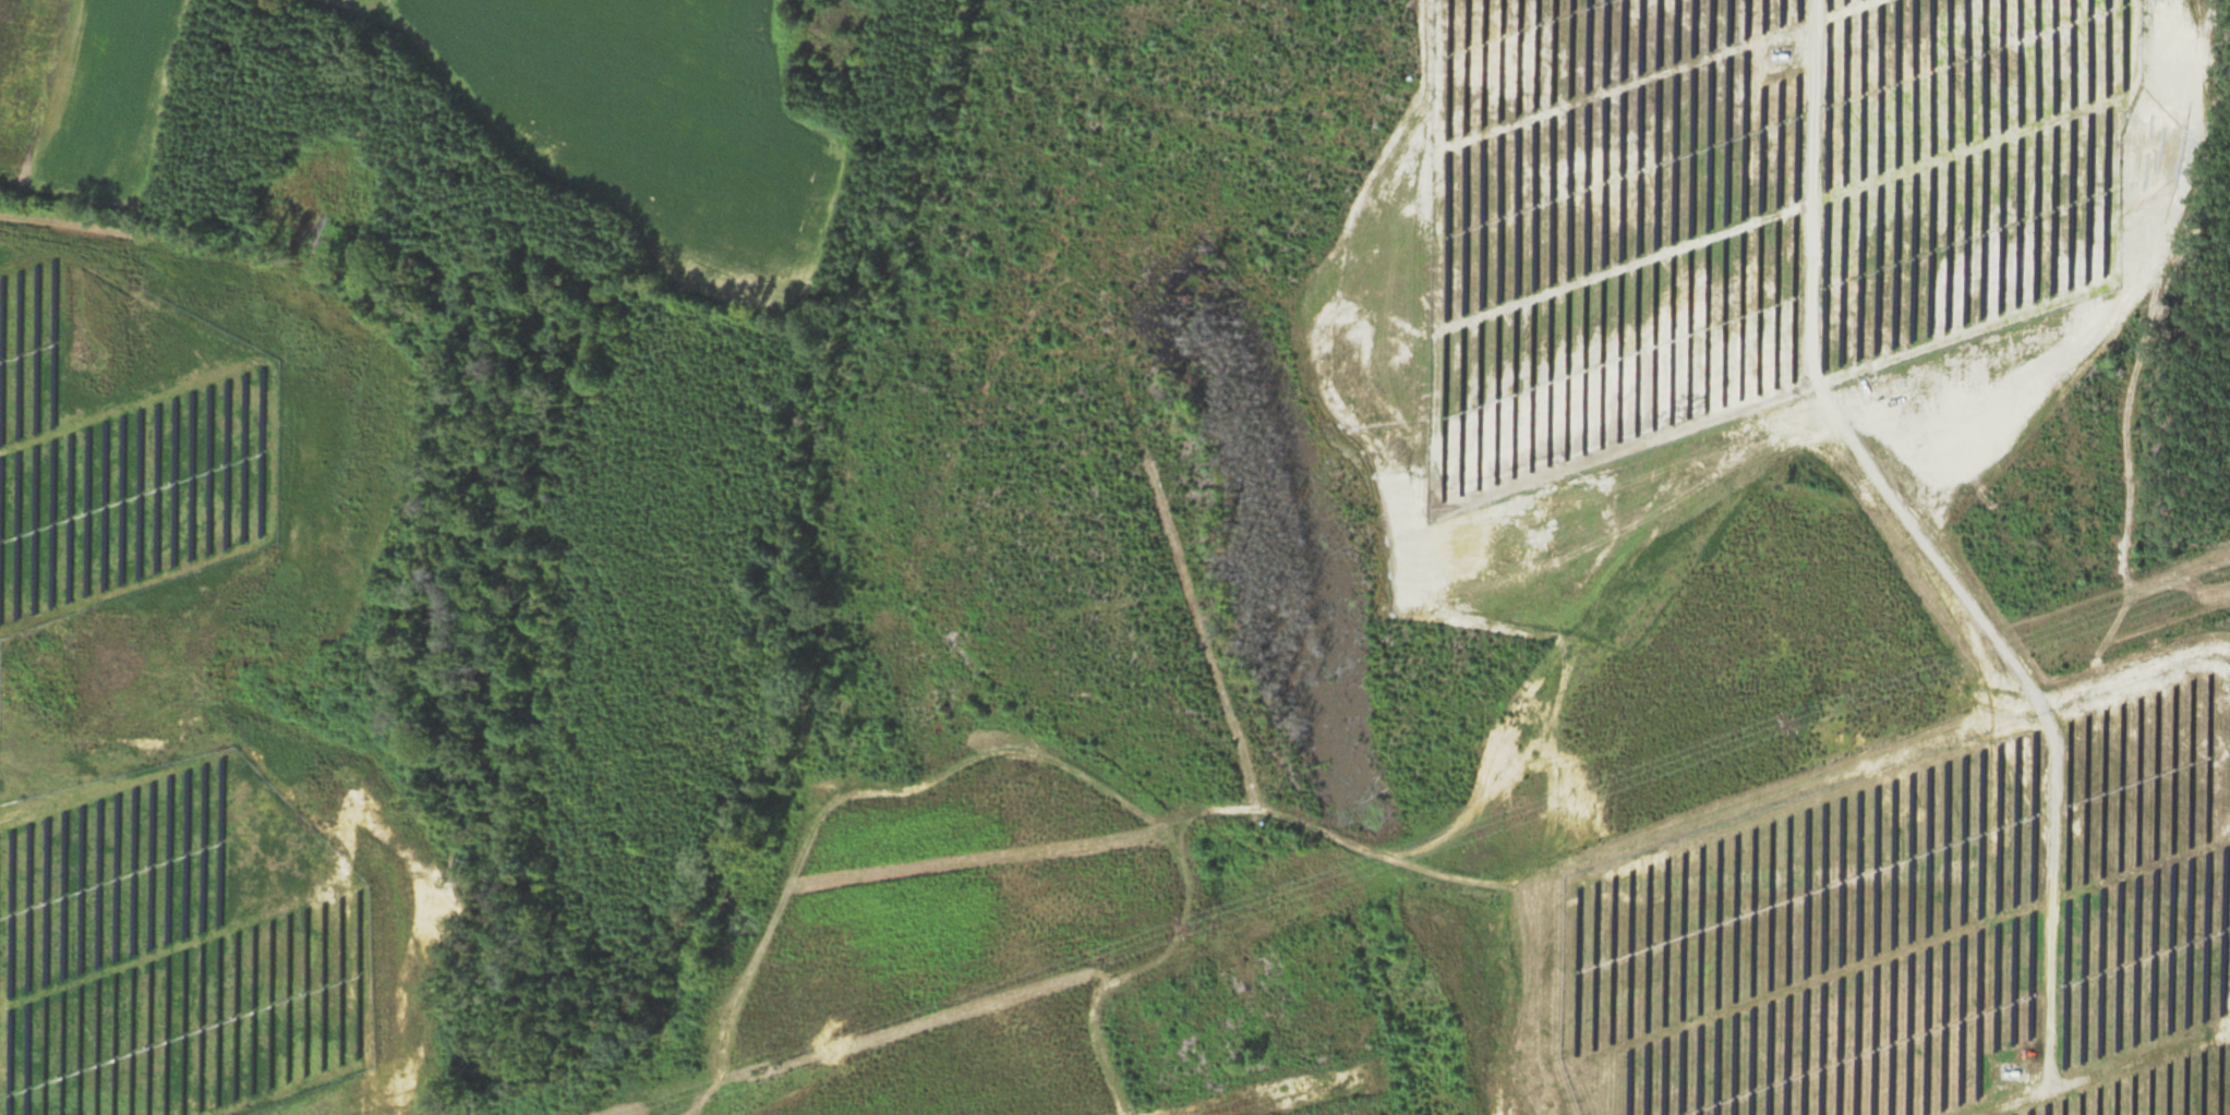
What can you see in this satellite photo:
road: (340, 2)

